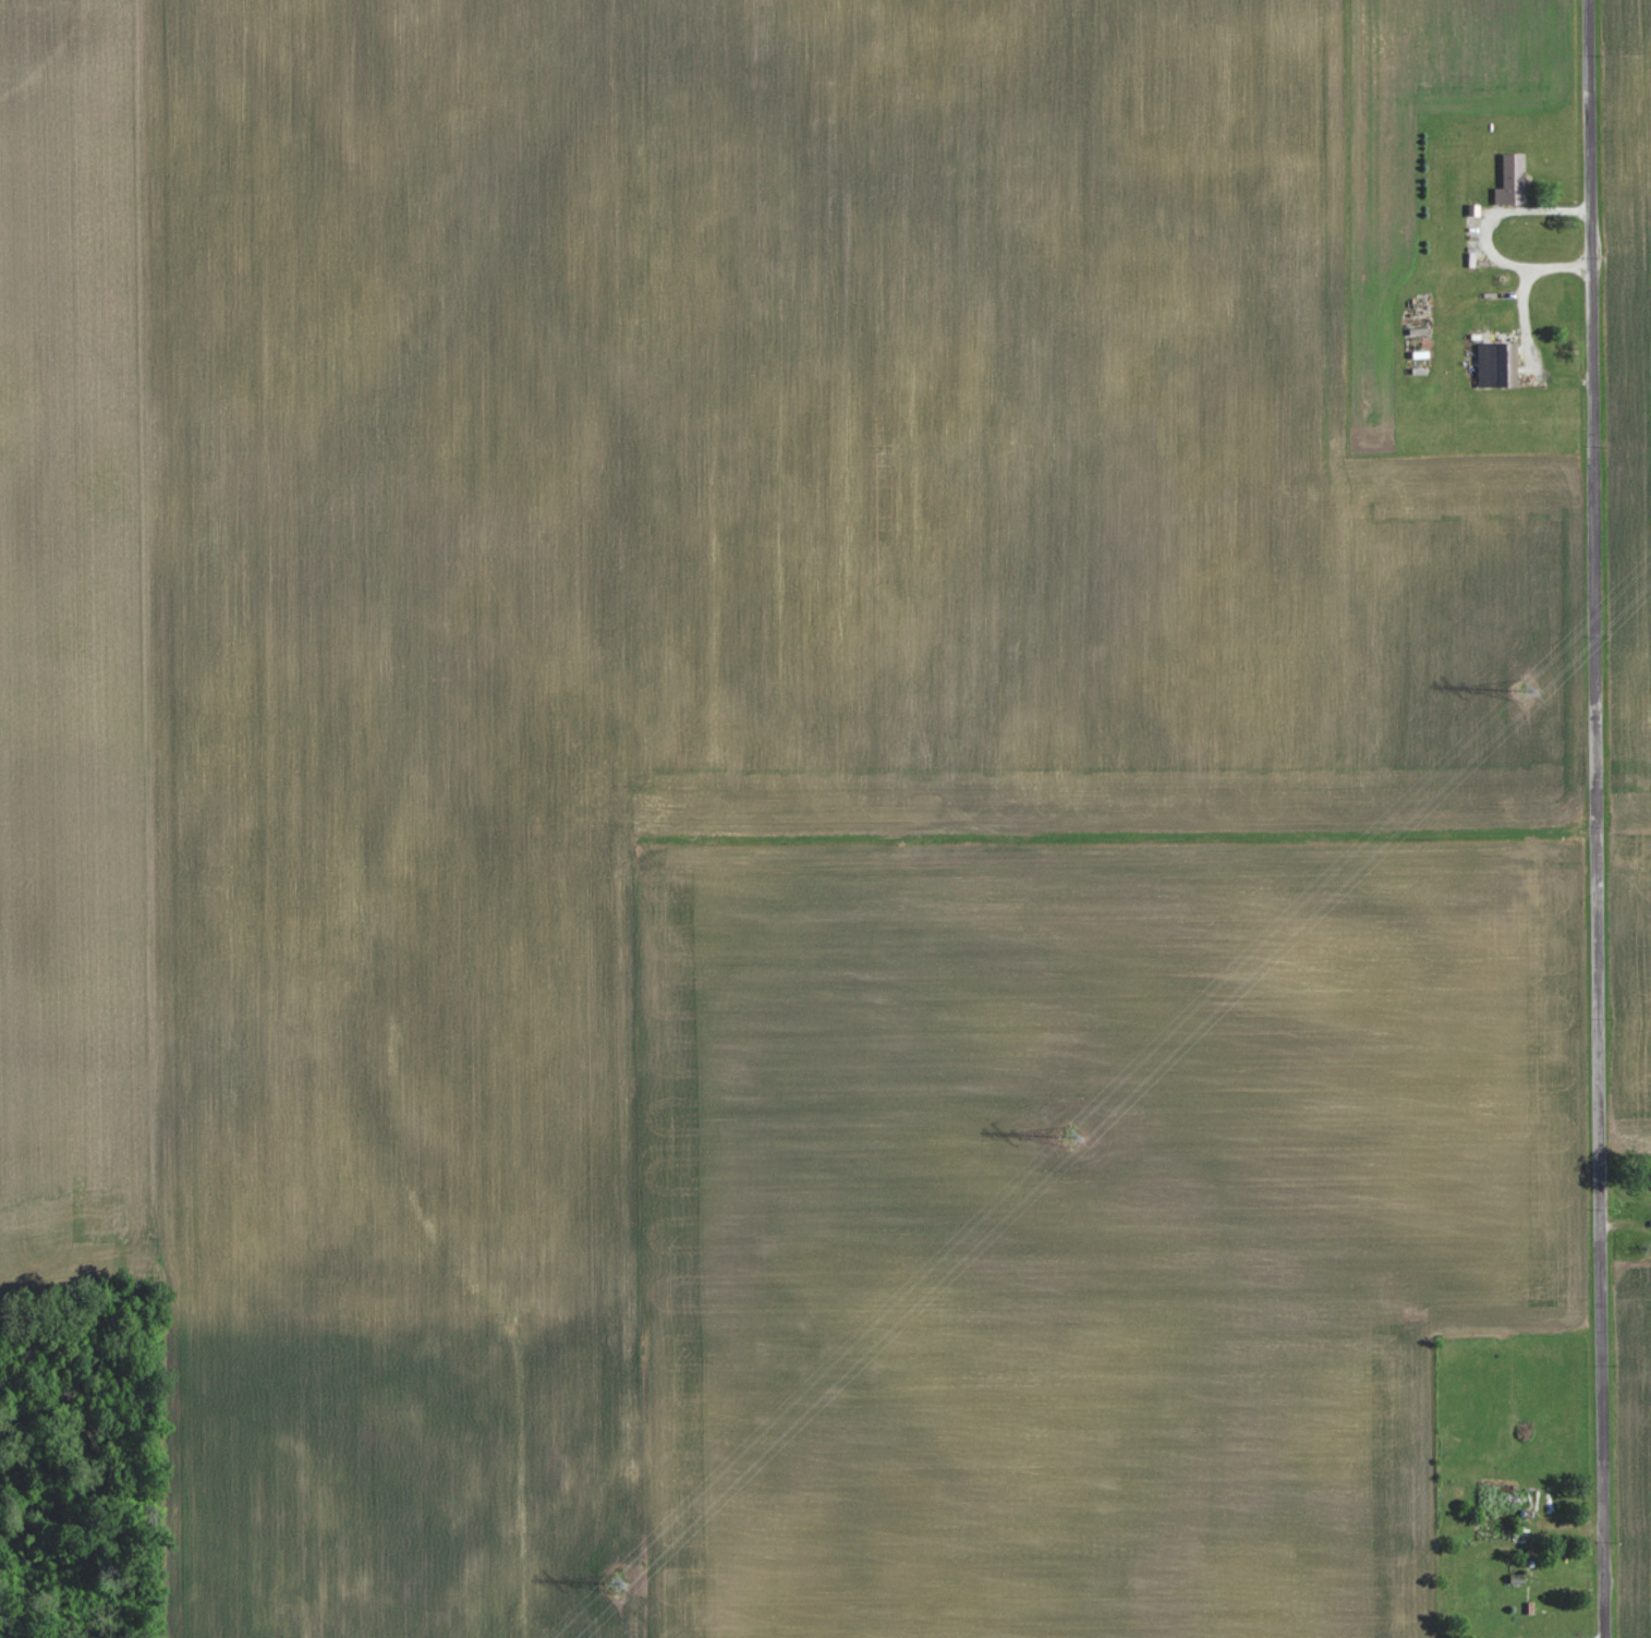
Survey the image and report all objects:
building: (1510, 180)
building: (1424, 302)
building: (1418, 330)
building: (1493, 365)
power tower: (1523, 689)
road: (1598, 818)
power tower: (1068, 1130)
power tower: (616, 1580)

